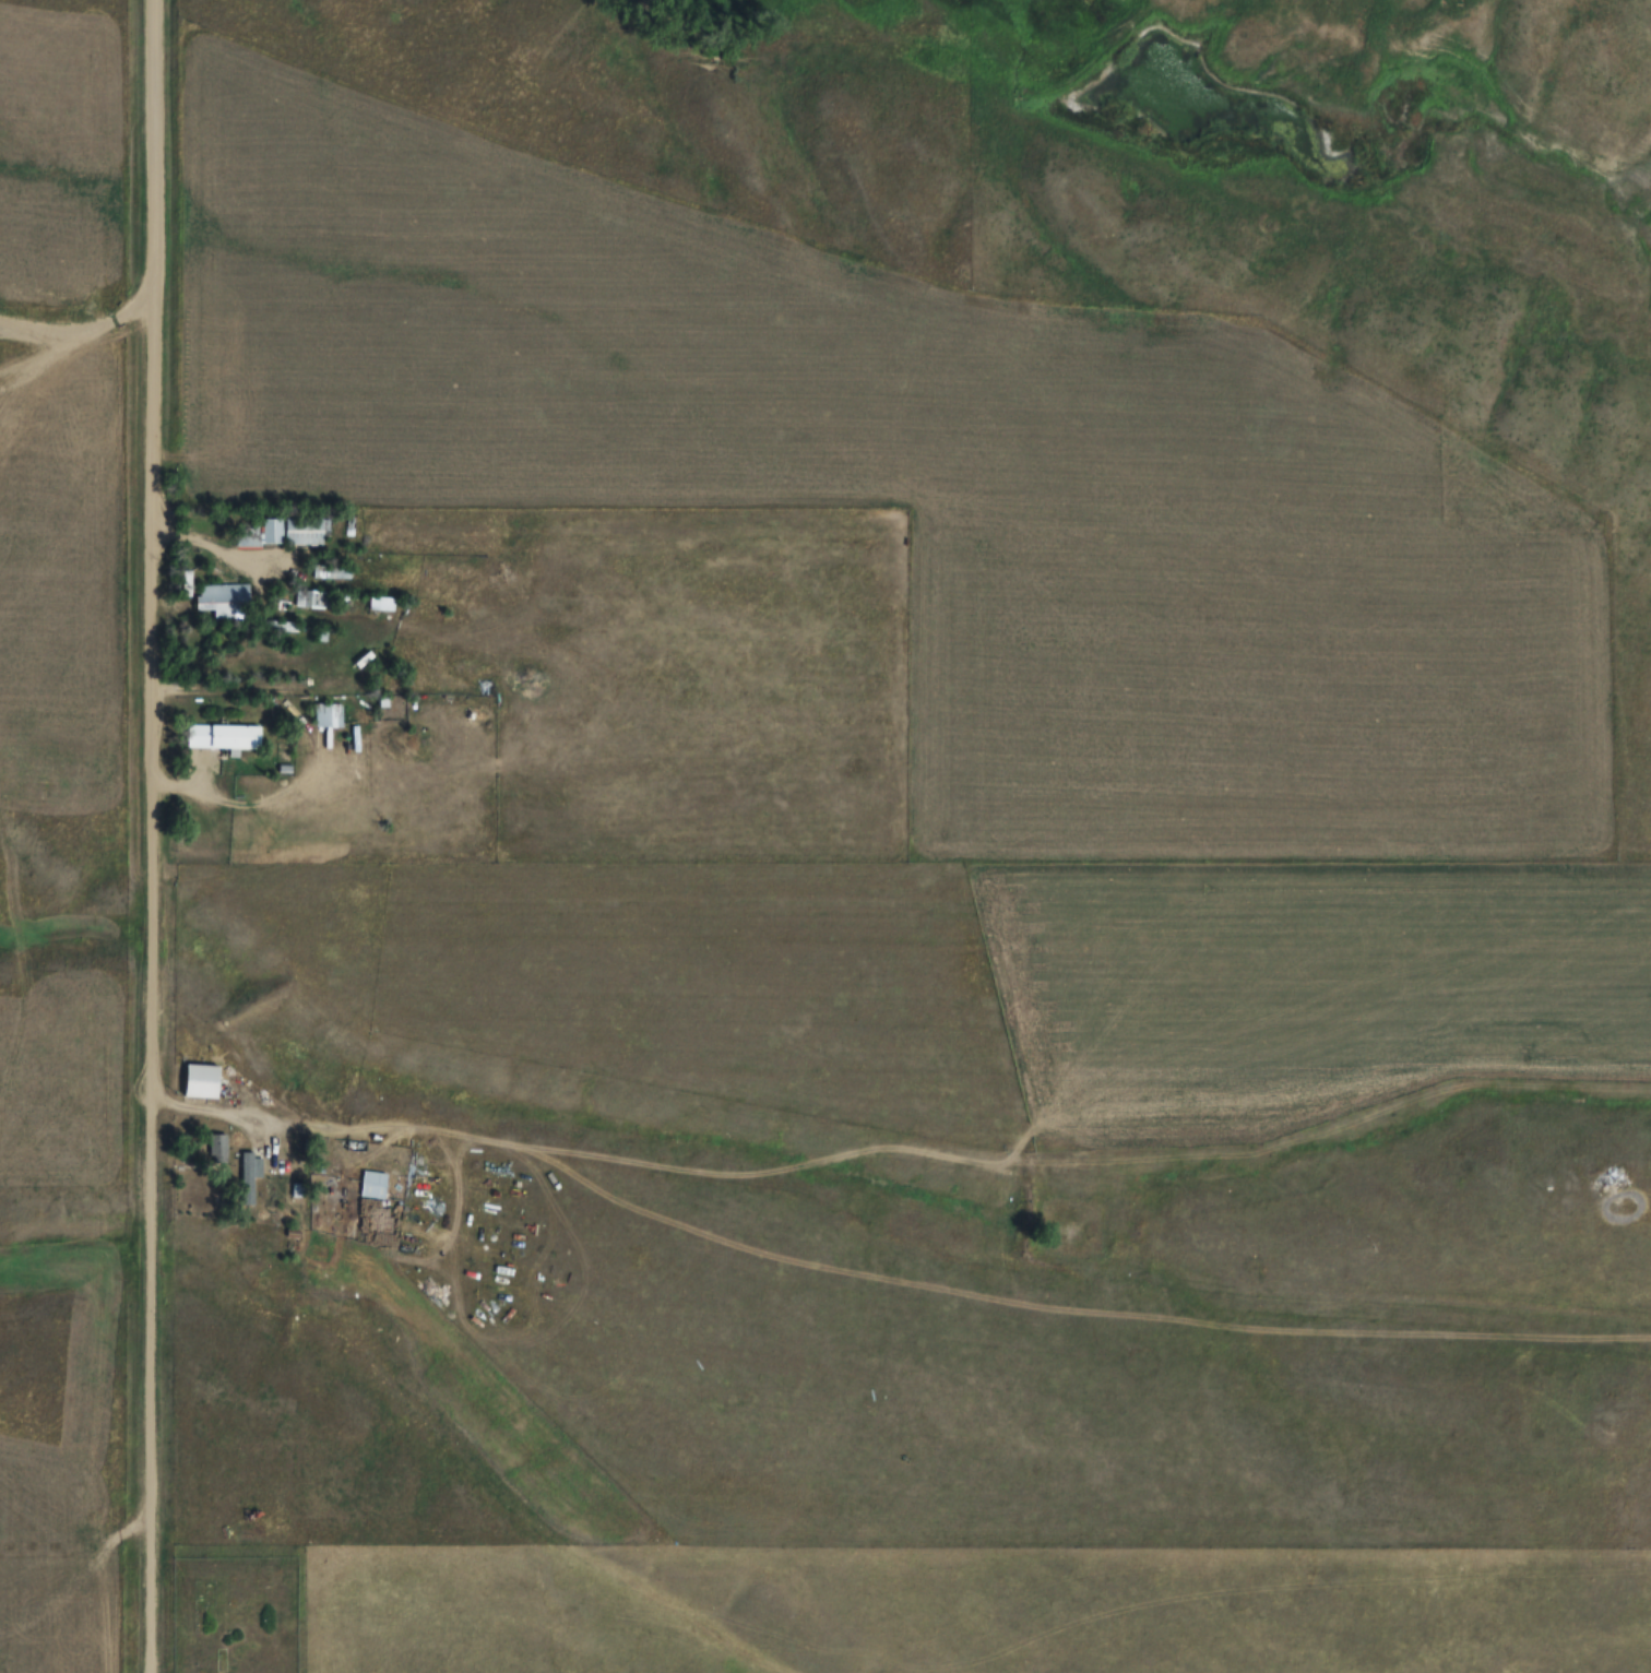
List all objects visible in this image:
building: (312, 524)
building: (272, 532)
building: (333, 572)
building: (312, 601)
building: (223, 602)
building: (329, 716)
building: (229, 738)
road: (147, 836)
building: (204, 1082)
building: (219, 1150)
building: (252, 1178)
building: (375, 1186)
park: (236, 1615)

